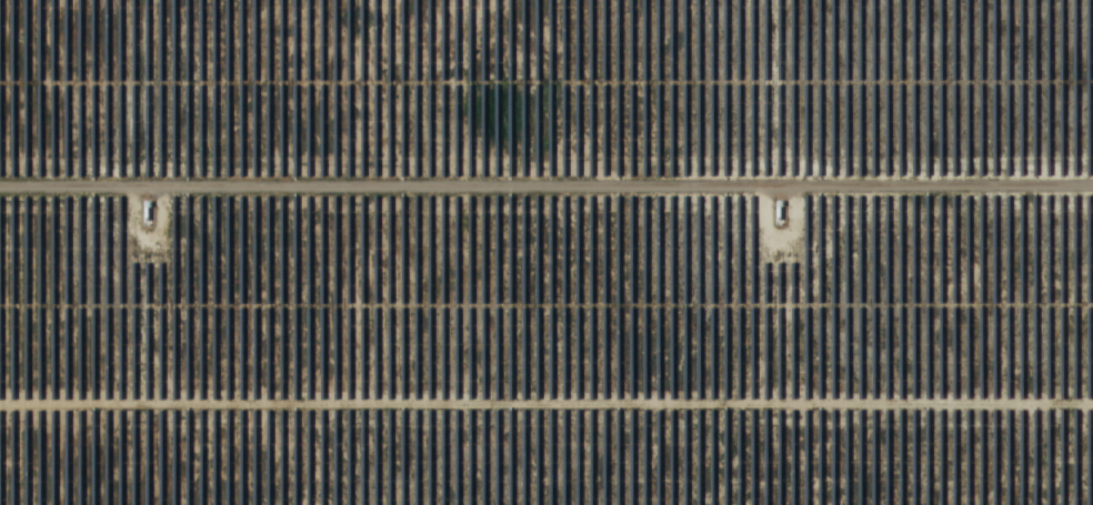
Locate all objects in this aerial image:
solar farm: (546, 252)

